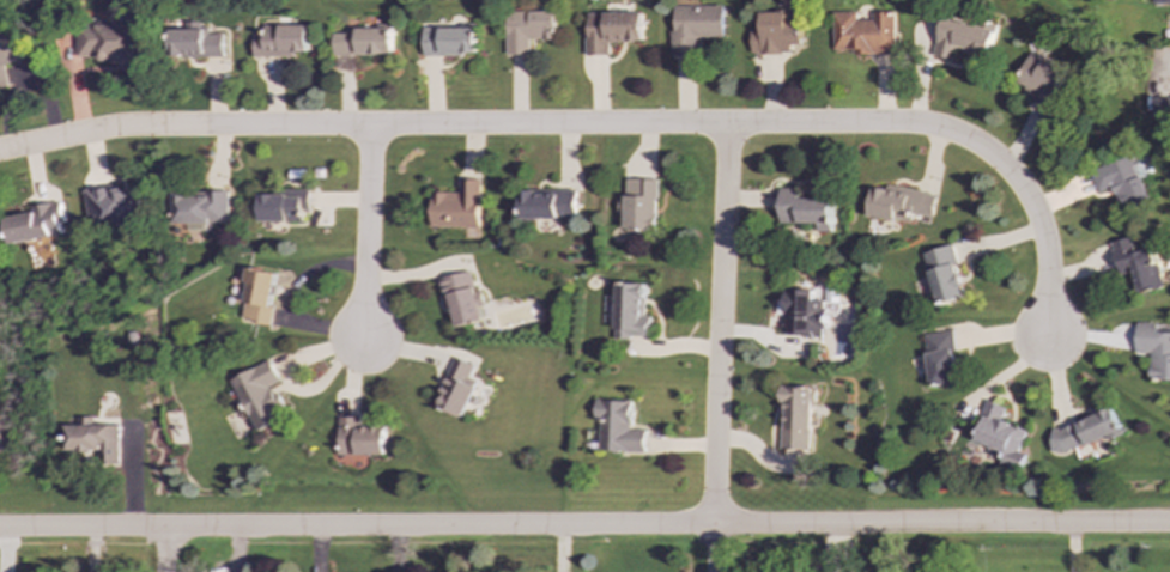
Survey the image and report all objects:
building: (1160, 1)
building: (695, 25)
building: (527, 29)
building: (611, 30)
building: (776, 32)
building: (865, 32)
building: (963, 38)
building: (281, 41)
building: (449, 41)
building: (110, 42)
building: (364, 42)
building: (196, 43)
building: (12, 48)
road: (1162, 57)
building: (1039, 78)
building: (1162, 107)
road: (595, 124)
building: (547, 203)
building: (899, 203)
building: (115, 205)
building: (637, 205)
building: (281, 206)
building: (456, 206)
building: (200, 207)
building: (805, 209)
building: (37, 223)
road: (366, 230)
building: (1139, 264)
building: (944, 274)
building: (254, 293)
building: (461, 298)
building: (630, 311)
building: (804, 312)
road: (719, 347)
building: (1154, 348)
building: (941, 358)
building: (456, 388)
building: (260, 395)
building: (796, 418)
building: (618, 427)
building: (1085, 432)
building: (1001, 434)
building: (358, 438)
building: (93, 440)
road: (584, 527)
road: (164, 549)

